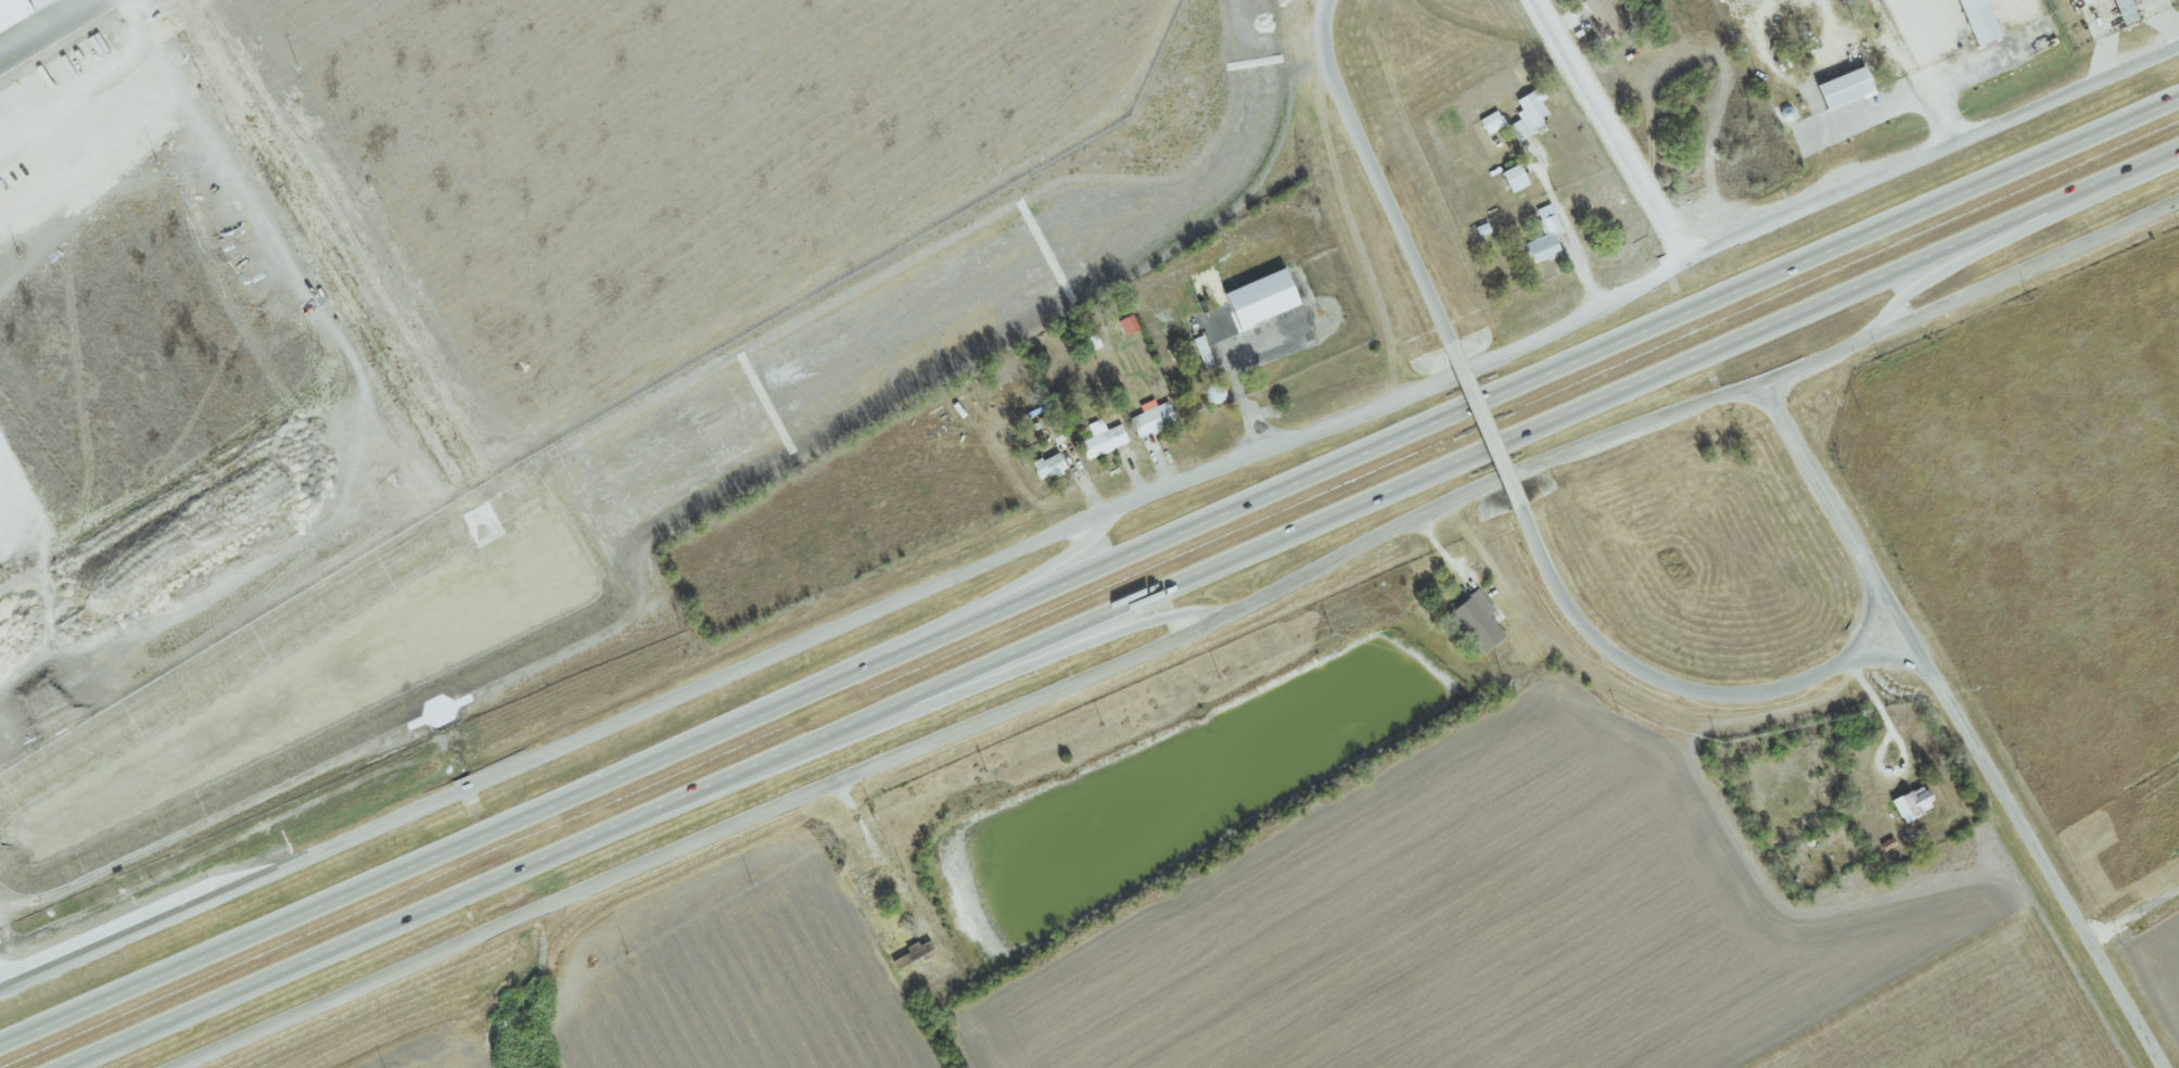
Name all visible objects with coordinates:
building: (2082, 1)
building: (1602, 15)
building: (1974, 21)
road: (1926, 72)
building: (1840, 88)
building: (1526, 114)
building: (1490, 123)
road: (1614, 130)
road: (1934, 153)
road: (36, 161)
road: (1373, 171)
building: (1512, 178)
road: (1567, 233)
building: (1543, 237)
road: (2001, 239)
road: (1970, 296)
building: (1257, 300)
building: (1125, 325)
building: (1201, 352)
road: (1244, 395)
road: (1471, 407)
building: (1151, 418)
road: (1483, 423)
building: (1101, 440)
road: (1489, 449)
building: (1047, 467)
building: (1476, 621)
road: (944, 625)
road: (845, 626)
road: (1891, 660)
road: (1015, 673)
road: (1686, 689)
road: (1962, 725)
road: (972, 728)
road: (1898, 739)
building: (1910, 804)
road: (878, 852)
road: (382, 882)
road: (434, 908)
road: (2135, 917)

